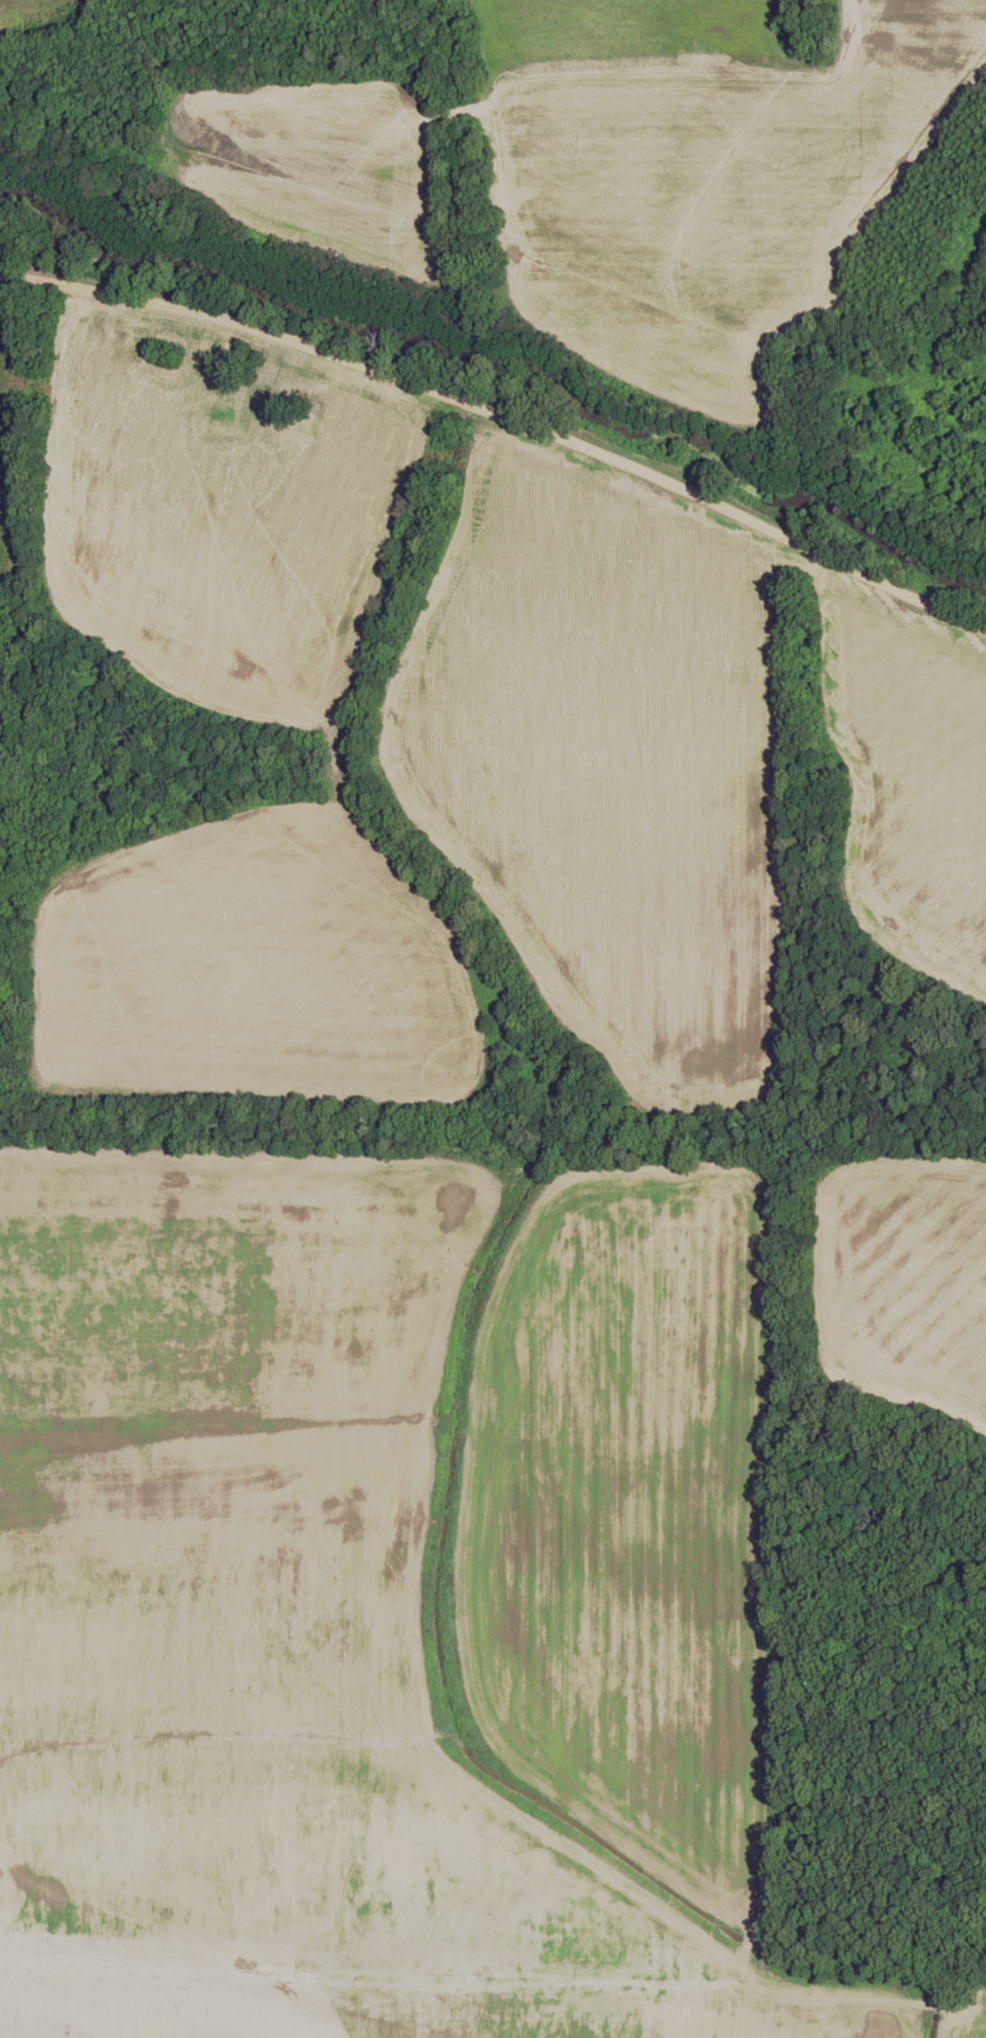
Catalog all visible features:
road: (505, 417)
road: (454, 1973)

